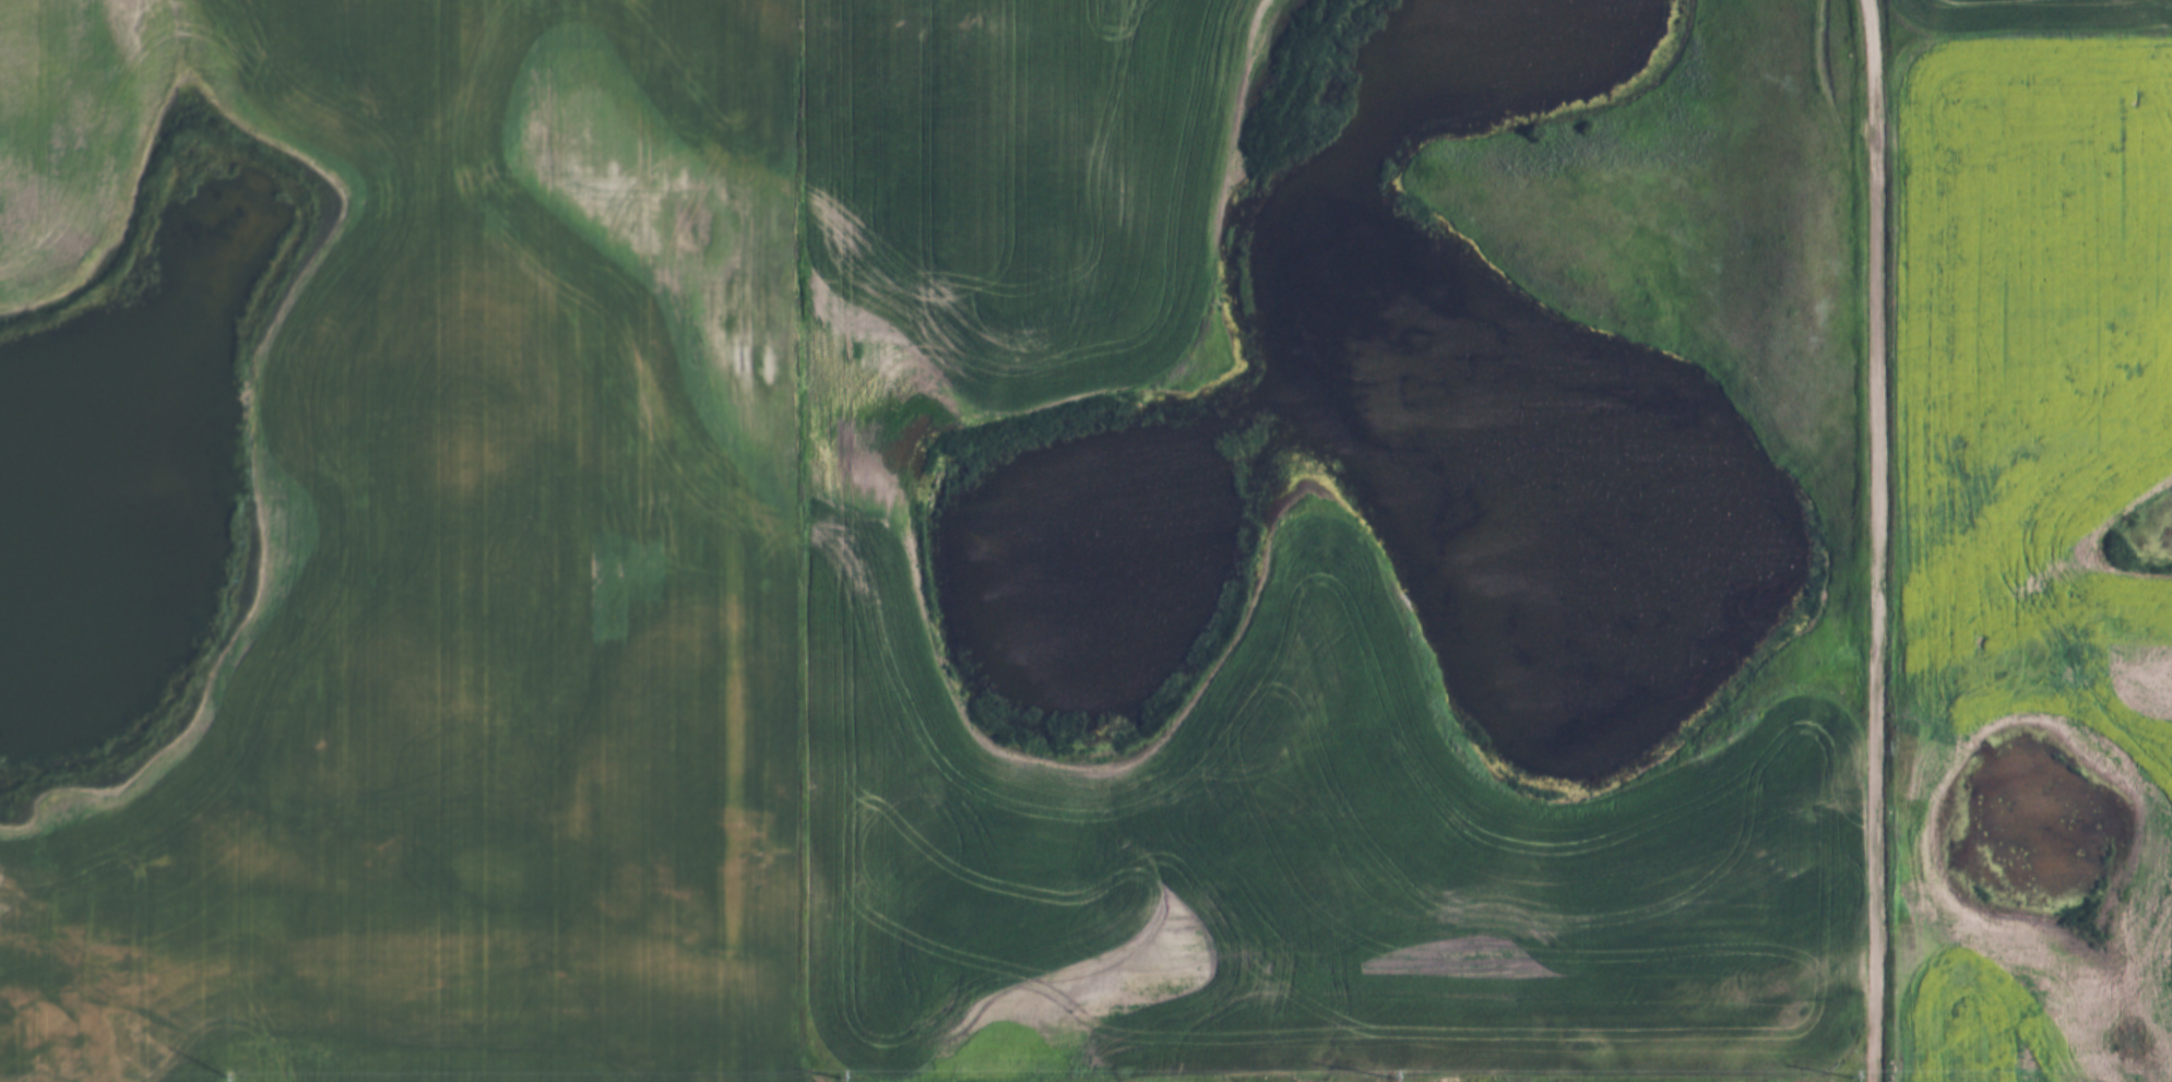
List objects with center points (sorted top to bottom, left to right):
road: (1874, 542)

